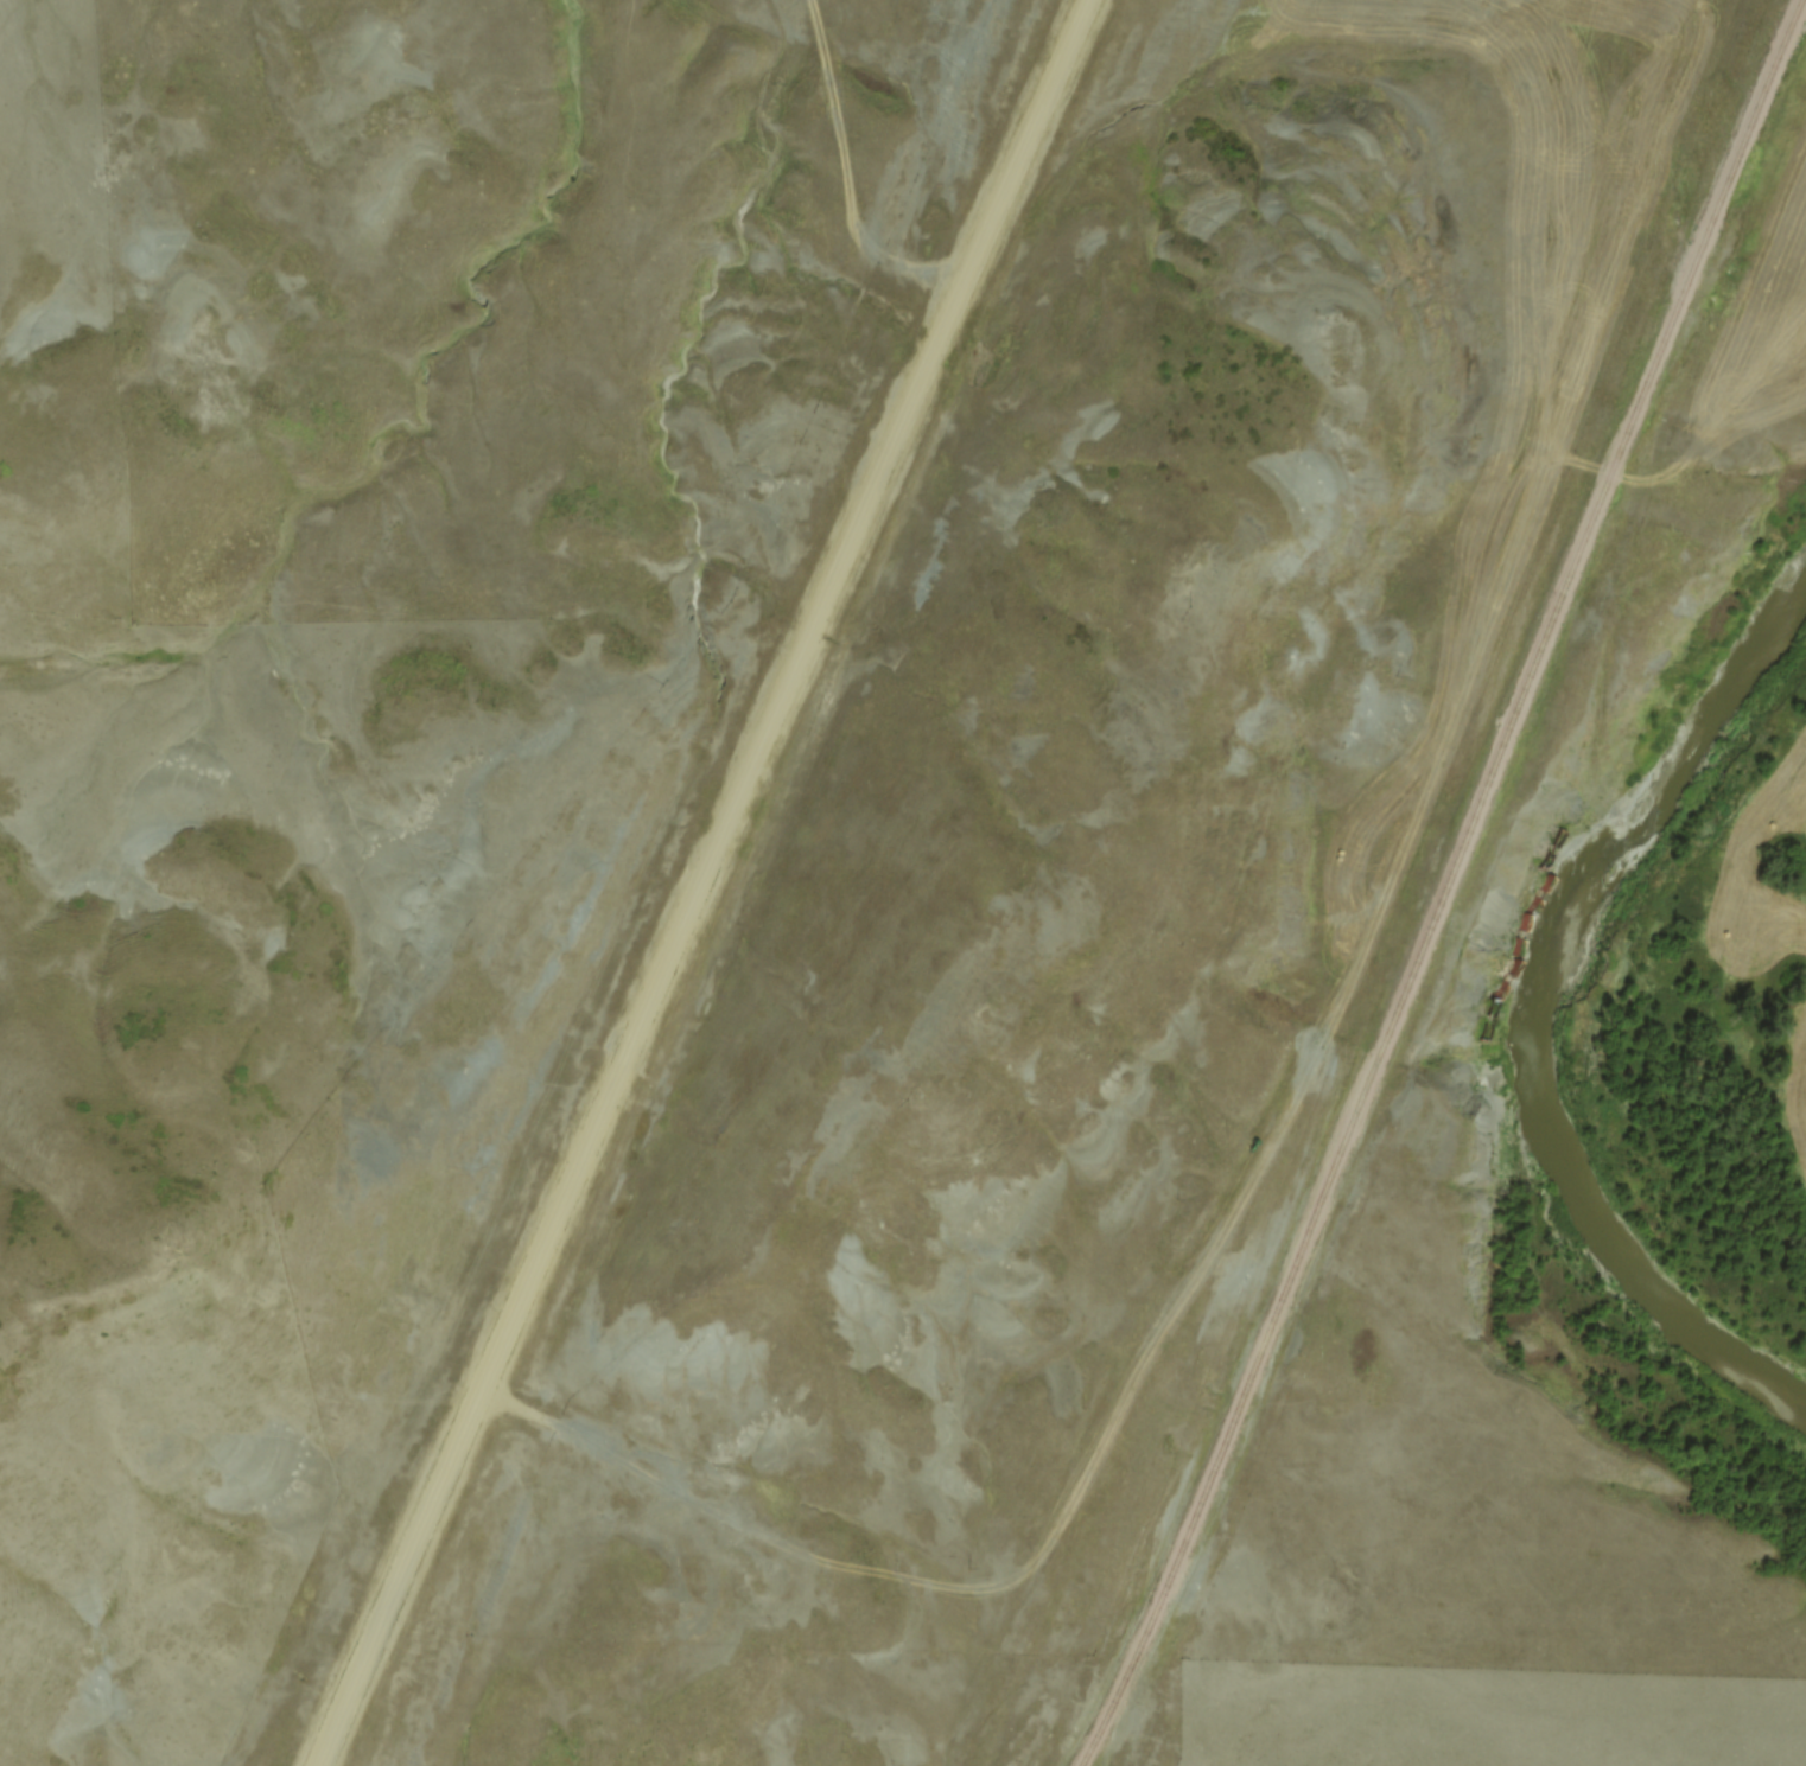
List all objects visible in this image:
road: (695, 882)
railway: (1443, 886)
river: (1521, 1008)

